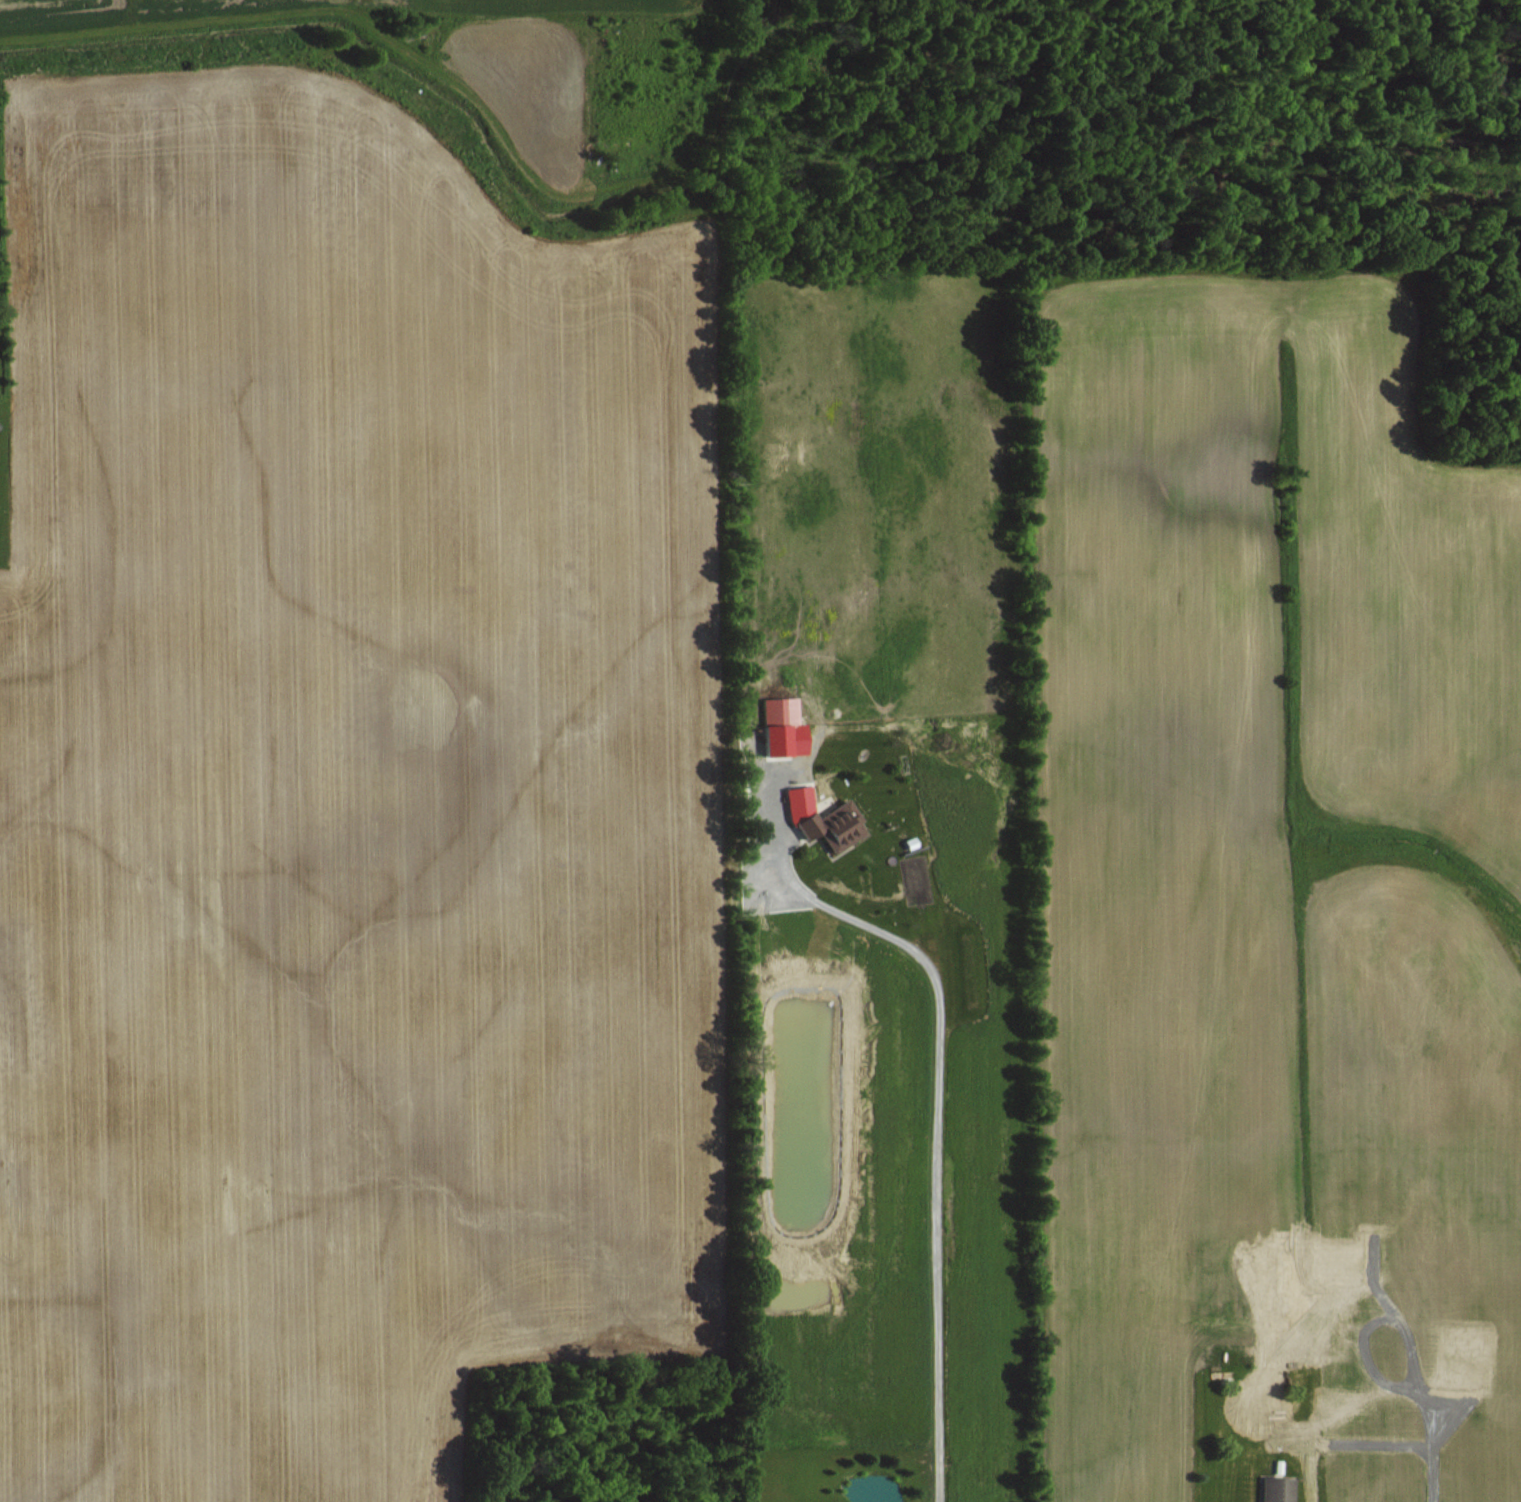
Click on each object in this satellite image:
building: (786, 726)
building: (825, 817)
road: (940, 1092)
building: (1279, 1489)

